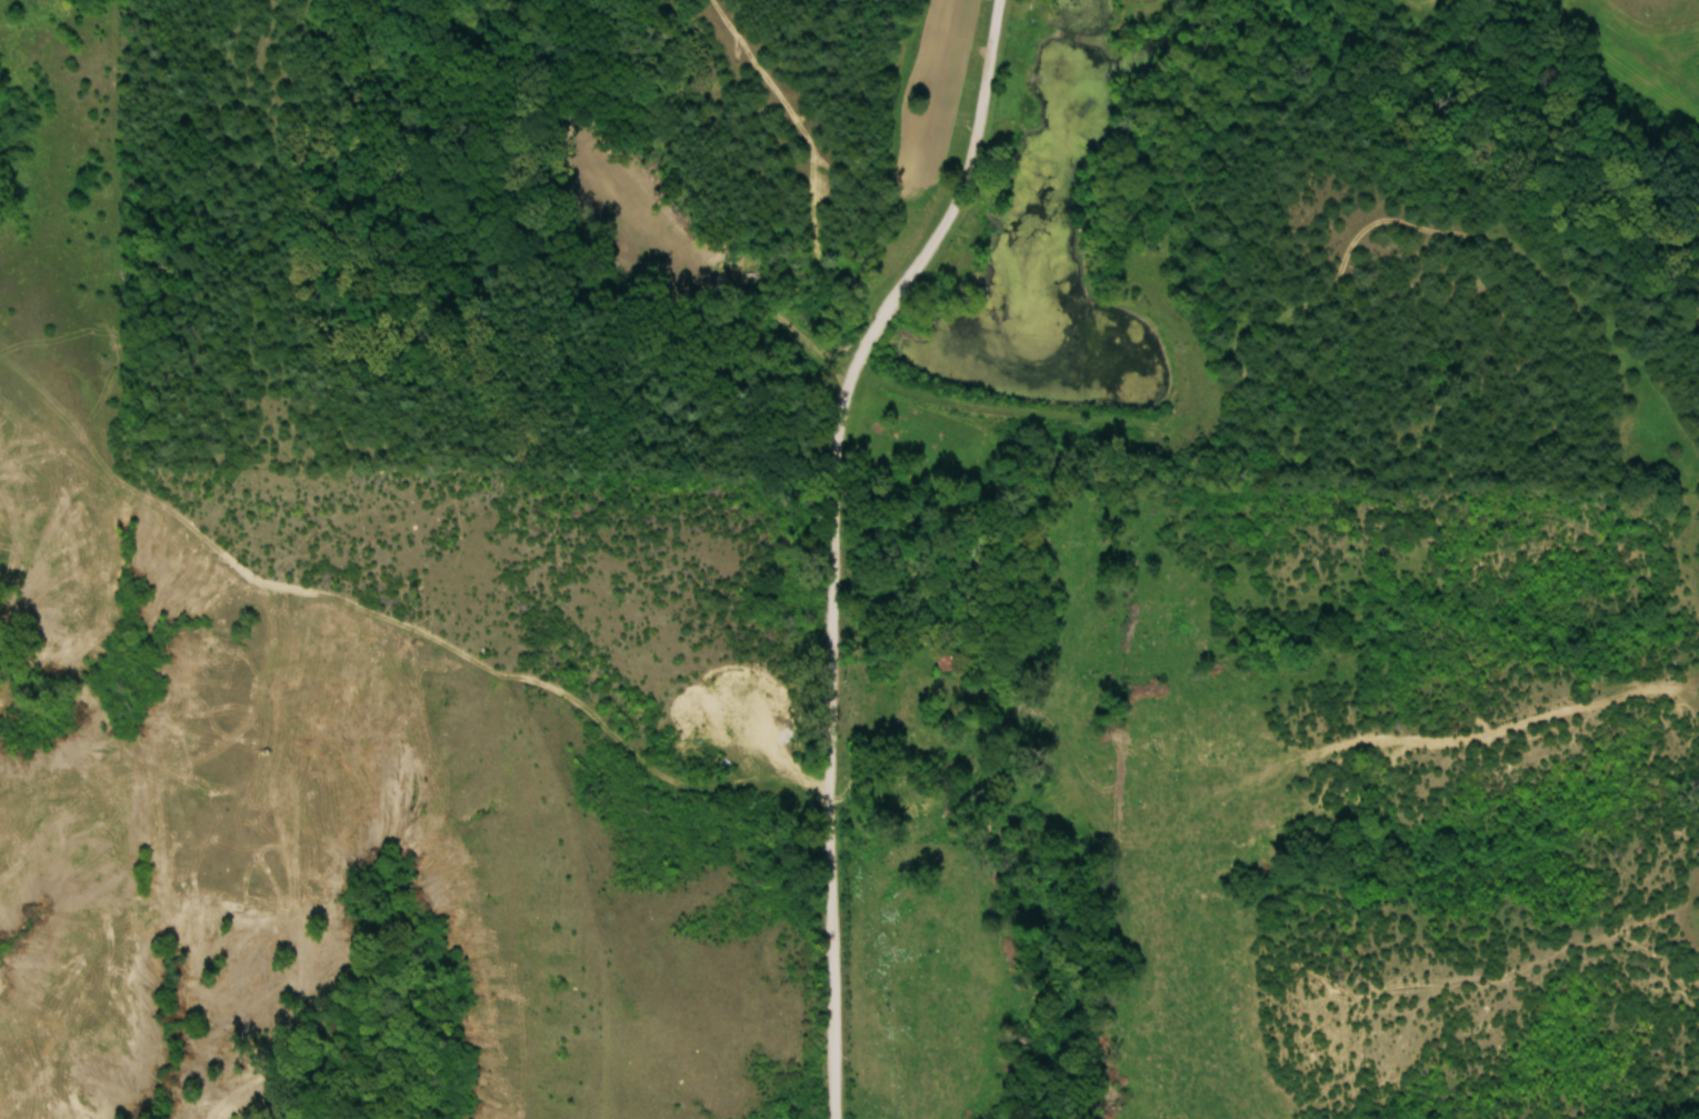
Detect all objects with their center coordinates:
road: (829, 538)

